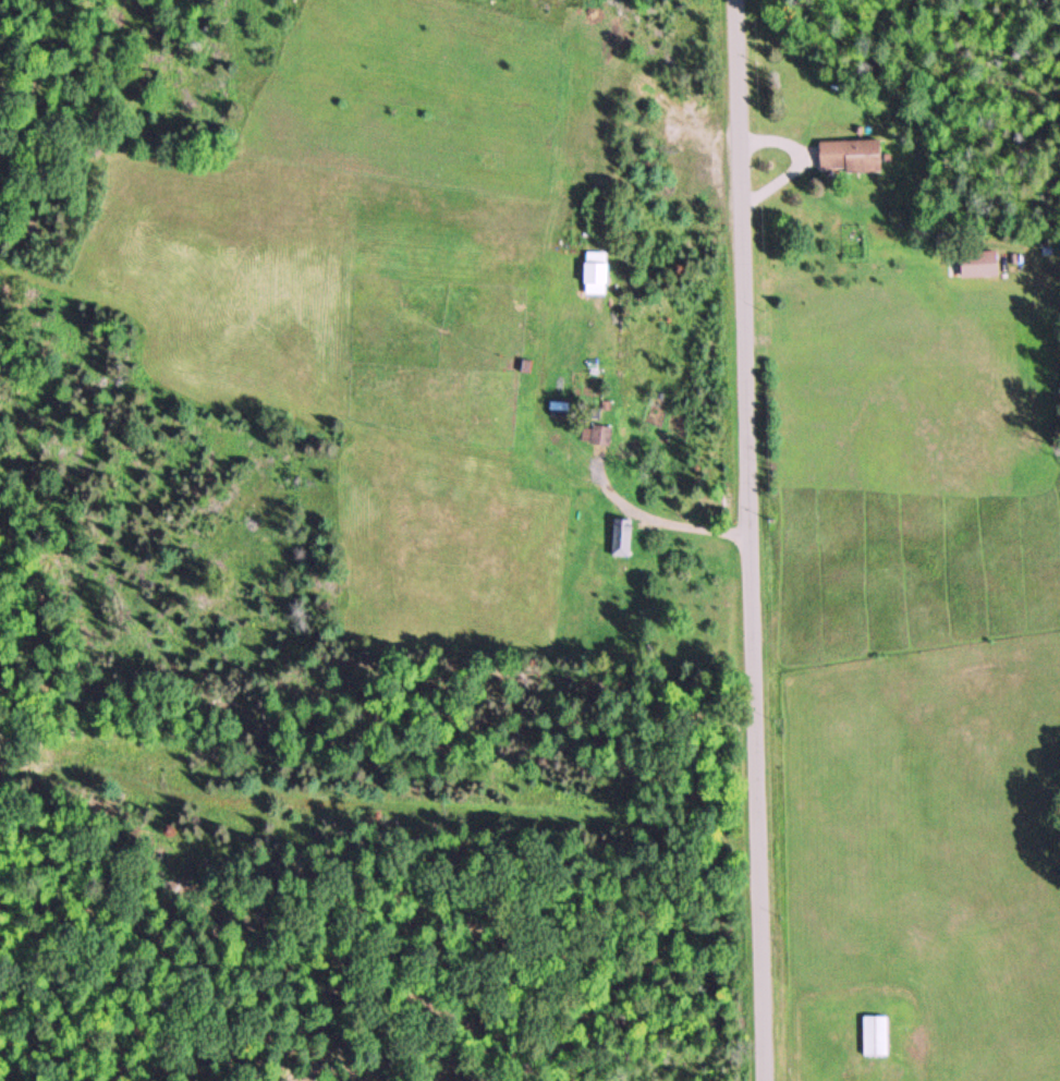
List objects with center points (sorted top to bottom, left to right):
building: (852, 156)
building: (980, 264)
building: (598, 435)
building: (622, 537)
road: (750, 540)
building: (876, 1035)

